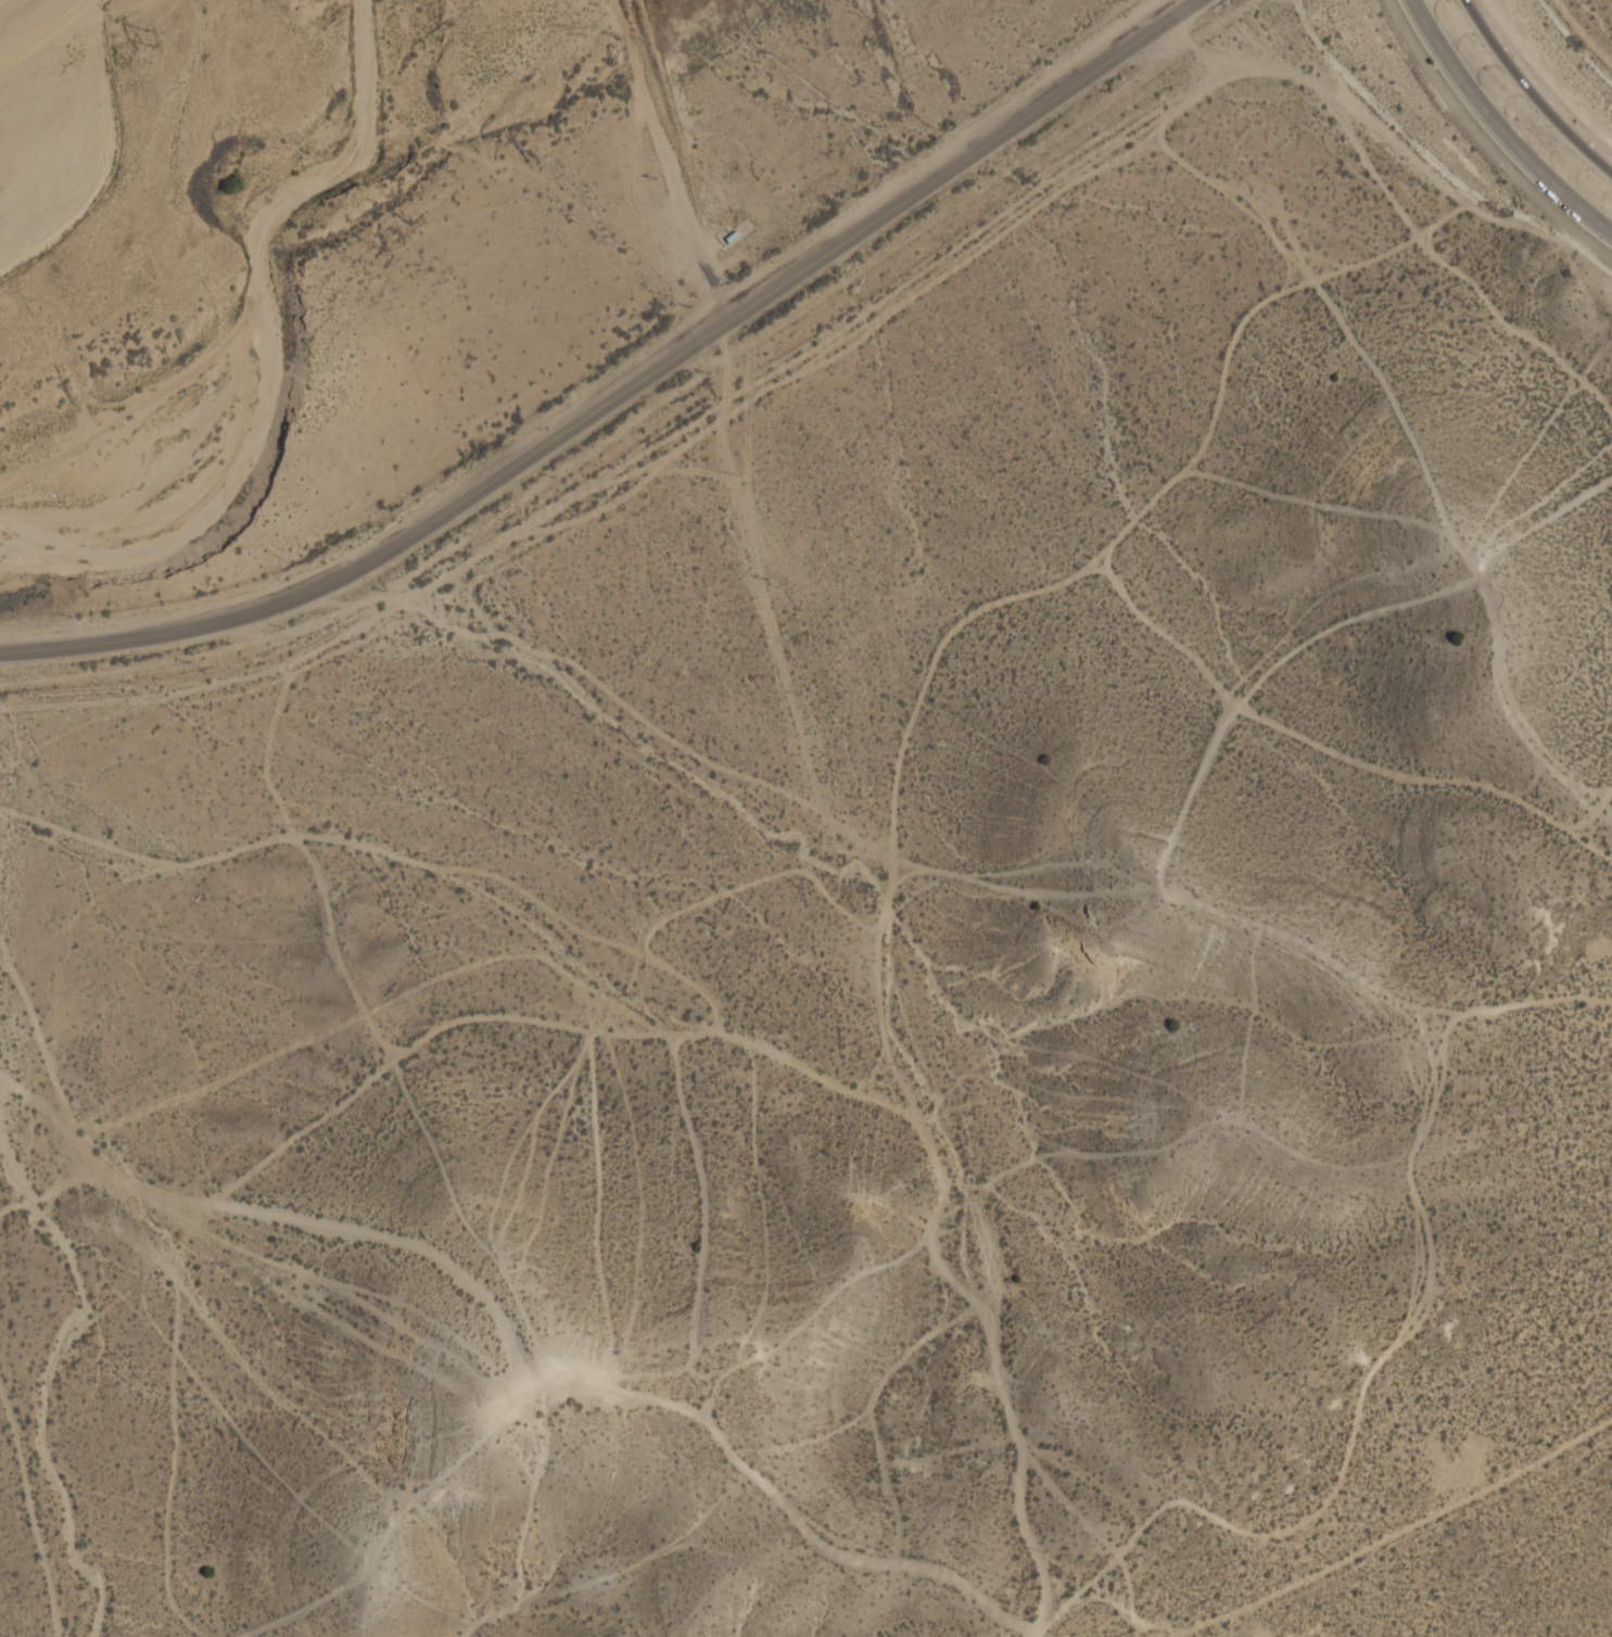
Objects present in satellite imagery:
power tower: (147, 35)
road: (1531, 91)
road: (1494, 128)
road: (1480, 143)
road: (960, 162)
road: (386, 550)

